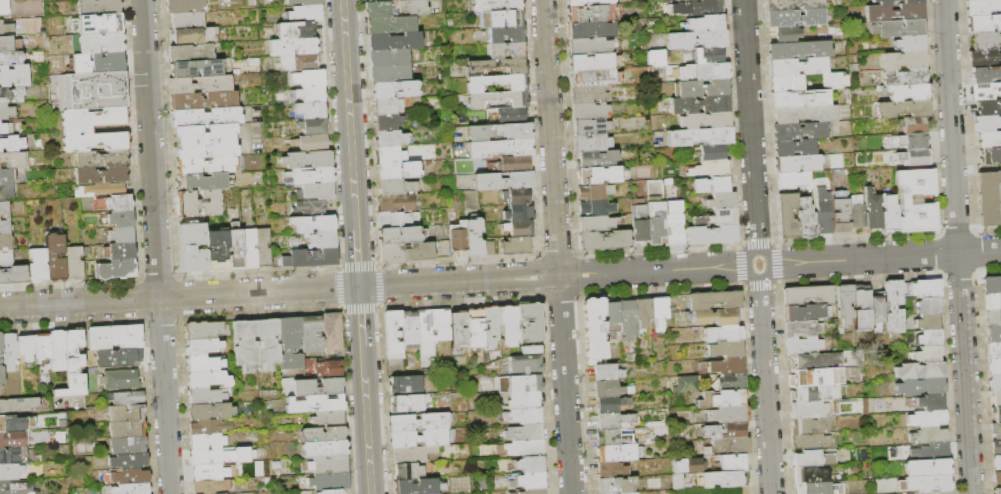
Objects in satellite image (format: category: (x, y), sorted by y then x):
building: (377, 0)
building: (896, 1)
building: (305, 2)
building: (587, 2)
building: (496, 5)
building: (791, 5)
building: (184, 6)
building: (4, 7)
building: (99, 7)
building: (982, 7)
building: (395, 8)
building: (702, 8)
building: (894, 12)
building: (306, 14)
building: (588, 14)
building: (504, 17)
building: (794, 18)
building: (187, 20)
building: (983, 23)
building: (100, 24)
building: (705, 24)
building: (391, 25)
building: (6, 28)
building: (897, 28)
building: (589, 30)
building: (294, 31)
building: (506, 34)
building: (787, 35)
building: (195, 36)
building: (696, 39)
building: (393, 41)
building: (984, 41)
building: (909, 43)
building: (6, 44)
building: (98, 44)
building: (589, 46)
building: (292, 47)
building: (507, 50)
building: (802, 50)
building: (190, 53)
building: (708, 55)
building: (653, 57)
building: (10, 58)
building: (388, 58)
building: (984, 58)
building: (903, 60)
building: (593, 62)
building: (100, 64)
building: (297, 64)
building: (495, 66)
building: (796, 66)
building: (852, 67)
building: (197, 69)
building: (704, 71)
building: (388, 74)
building: (985, 74)
building: (14, 76)
building: (904, 76)
building: (594, 78)
building: (308, 79)
building: (833, 80)
building: (495, 82)
building: (785, 83)
building: (200, 85)
building: (700, 88)
building: (395, 89)
building: (92, 91)
building: (985, 91)
building: (908, 92)
building: (310, 94)
building: (587, 94)
building: (12, 95)
building: (798, 99)
building: (480, 100)
building: (202, 101)
building: (700, 104)
building: (388, 106)
building: (988, 107)
building: (902, 109)
building: (310, 110)
building: (589, 111)
building: (6, 112)
road: (348, 114)
building: (805, 114)
building: (511, 115)
building: (206, 117)
building: (705, 120)
building: (389, 121)
building: (987, 123)
building: (912, 124)
building: (590, 126)
building: (312, 127)
building: (3, 129)
building: (77, 129)
building: (498, 131)
building: (801, 131)
building: (699, 136)
building: (390, 138)
building: (914, 140)
building: (989, 140)
building: (205, 142)
building: (311, 143)
building: (591, 143)
building: (12, 144)
building: (498, 148)
building: (793, 148)
building: (712, 153)
building: (390, 155)
building: (914, 156)
building: (989, 156)
building: (102, 159)
building: (307, 159)
building: (597, 159)
building: (13, 160)
building: (513, 163)
building: (796, 163)
building: (208, 166)
building: (710, 168)
building: (398, 170)
building: (837, 173)
building: (102, 175)
building: (601, 175)
building: (310, 176)
building: (6, 178)
building: (503, 180)
building: (792, 180)
building: (203, 182)
building: (711, 184)
building: (395, 187)
building: (101, 190)
building: (317, 191)
building: (6, 194)
building: (518, 196)
building: (989, 199)
building: (594, 200)
building: (720, 200)
building: (915, 200)
building: (120, 203)
building: (395, 203)
building: (197, 204)
building: (308, 206)
building: (4, 209)
building: (871, 210)
building: (822, 211)
building: (839, 212)
building: (856, 212)
building: (519, 213)
building: (888, 215)
building: (721, 216)
building: (787, 216)
building: (121, 219)
building: (397, 219)
building: (805, 219)
building: (656, 220)
building: (698, 221)
building: (639, 222)
building: (674, 222)
building: (595, 223)
building: (313, 224)
building: (5, 227)
building: (517, 228)
building: (471, 234)
building: (710, 234)
building: (122, 235)
building: (400, 235)
building: (454, 236)
building: (323, 240)
building: (603, 240)
road: (757, 241)
building: (5, 242)
building: (516, 245)
road: (156, 246)
building: (486, 246)
road: (557, 246)
road: (757, 246)
road: (957, 246)
building: (192, 248)
building: (248, 248)
building: (262, 248)
road: (658, 248)
building: (234, 249)
building: (216, 251)
building: (406, 251)
building: (122, 252)
road: (556, 255)
road: (357, 257)
building: (6, 259)
building: (56, 259)
building: (310, 259)
road: (457, 261)
road: (775, 262)
building: (74, 263)
road: (740, 263)
building: (39, 266)
road: (357, 266)
building: (117, 270)
road: (256, 272)
road: (576, 274)
building: (14, 276)
road: (539, 276)
road: (157, 277)
road: (500, 279)
road: (759, 283)
road: (377, 285)
building: (992, 285)
road: (339, 288)
traffic signals: (359, 288)
road: (659, 289)
building: (925, 289)
building: (807, 295)
road: (559, 296)
road: (175, 297)
road: (141, 299)
road: (460, 301)
building: (714, 301)
building: (992, 301)
building: (845, 304)
building: (928, 305)
building: (894, 306)
road: (360, 307)
building: (861, 307)
building: (803, 311)
building: (877, 312)
road: (260, 313)
building: (659, 313)
building: (643, 314)
road: (360, 316)
building: (611, 317)
building: (716, 317)
building: (992, 317)
road: (161, 319)
building: (627, 319)
building: (529, 322)
building: (927, 322)
building: (440, 324)
building: (508, 325)
building: (424, 326)
building: (490, 326)
building: (408, 328)
building: (473, 328)
building: (801, 328)
building: (202, 330)
building: (593, 330)
building: (332, 332)
building: (457, 332)
building: (722, 333)
building: (311, 334)
building: (993, 334)
building: (392, 335)
building: (115, 338)
building: (929, 338)
building: (0, 343)
building: (267, 343)
building: (289, 343)
building: (244, 344)
building: (802, 345)
building: (42, 347)
building: (201, 347)
building: (26, 348)
building: (724, 348)
building: (530, 349)
building: (994, 350)
building: (57, 351)
building: (10, 352)
building: (928, 354)
building: (125, 358)
building: (656, 358)
building: (817, 360)
building: (203, 364)
building: (524, 364)
building: (726, 364)
building: (73, 366)
building: (393, 366)
building: (993, 366)
building: (423, 367)
building: (328, 369)
building: (660, 369)
building: (920, 370)
building: (606, 372)
building: (817, 376)
building: (1, 377)
building: (206, 379)
building: (120, 380)
building: (729, 381)
building: (994, 382)
building: (404, 384)
building: (519, 384)
building: (684, 384)
building: (920, 386)
building: (317, 387)
building: (609, 388)
building: (816, 393)
building: (207, 396)
building: (721, 398)
building: (996, 398)
building: (129, 399)
building: (524, 400)
building: (927, 402)
building: (406, 403)
building: (610, 403)
building: (314, 404)
building: (19, 405)
building: (833, 407)
building: (809, 410)
building: (209, 411)
building: (127, 414)
building: (729, 414)
building: (996, 414)
building: (523, 416)
building: (927, 418)
building: (328, 419)
building: (613, 419)
road: (366, 420)
building: (419, 421)
building: (10, 424)
building: (810, 426)
building: (208, 427)
building: (128, 430)
building: (660, 430)
building: (733, 430)
building: (996, 430)
building: (524, 432)
building: (322, 434)
building: (928, 435)
building: (610, 437)
building: (417, 438)
building: (12, 440)
building: (206, 441)
building: (809, 441)
building: (128, 446)
building: (730, 446)
building: (996, 447)
building: (525, 448)
building: (324, 449)
building: (930, 452)
building: (616, 453)
building: (412, 454)
building: (11, 455)
building: (220, 456)
building: (812, 459)
building: (130, 461)
building: (997, 462)
building: (733, 463)
building: (530, 464)
building: (328, 465)
building: (688, 465)
building: (927, 468)
building: (610, 470)
building: (407, 471)
building: (10, 472)
building: (209, 472)
building: (809, 475)
building: (127, 477)
building: (997, 477)
building: (726, 479)
building: (532, 481)
building: (328, 482)
building: (676, 482)
building: (931, 484)
building: (616, 485)
building: (210, 486)
building: (418, 486)
building: (15, 488)
building: (819, 488)
building: (132, 489)
building: (997, 490)
building: (532, 491)
building: (331, 492)
building: (935, 492)
building: (216, 493)
building: (630, 493)

